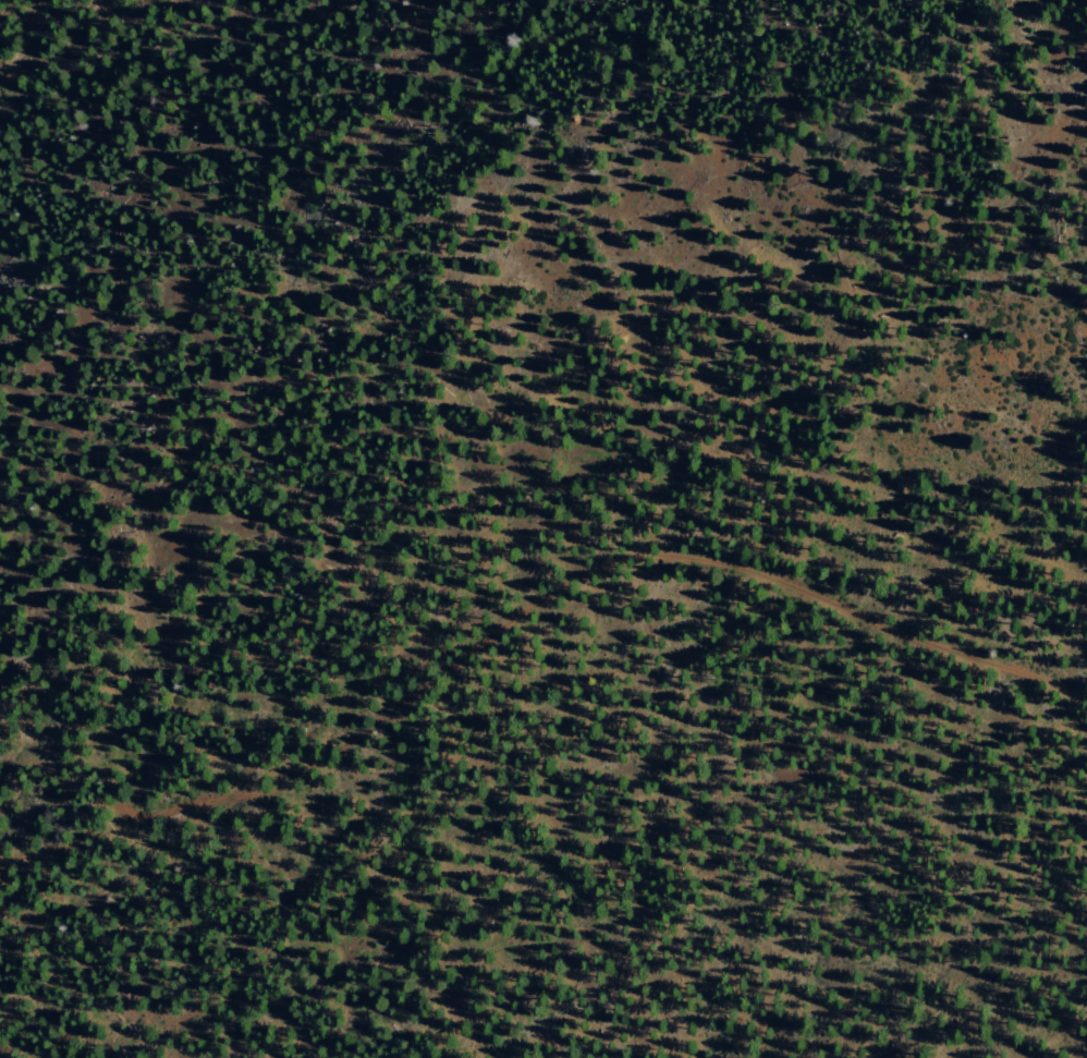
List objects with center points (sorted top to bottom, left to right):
road: (558, 589)

